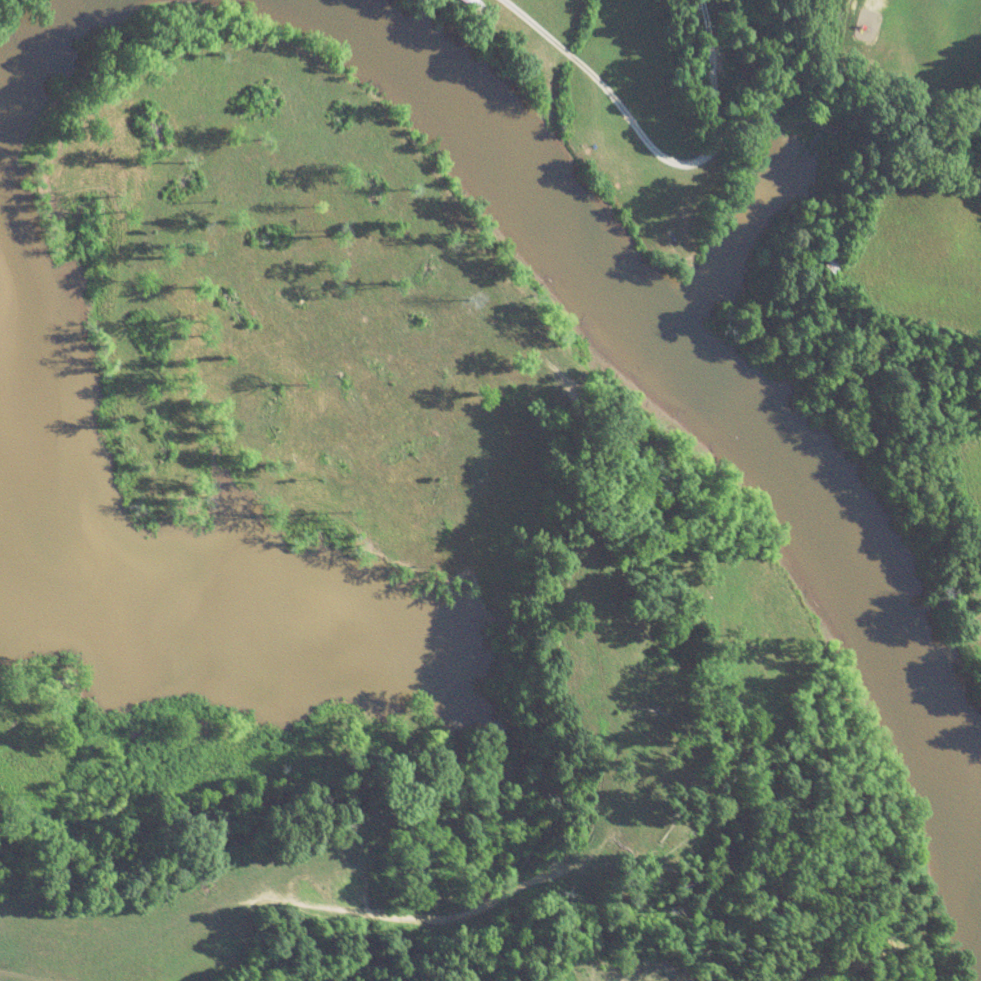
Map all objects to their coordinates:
river: (59, 71)
river: (734, 398)

